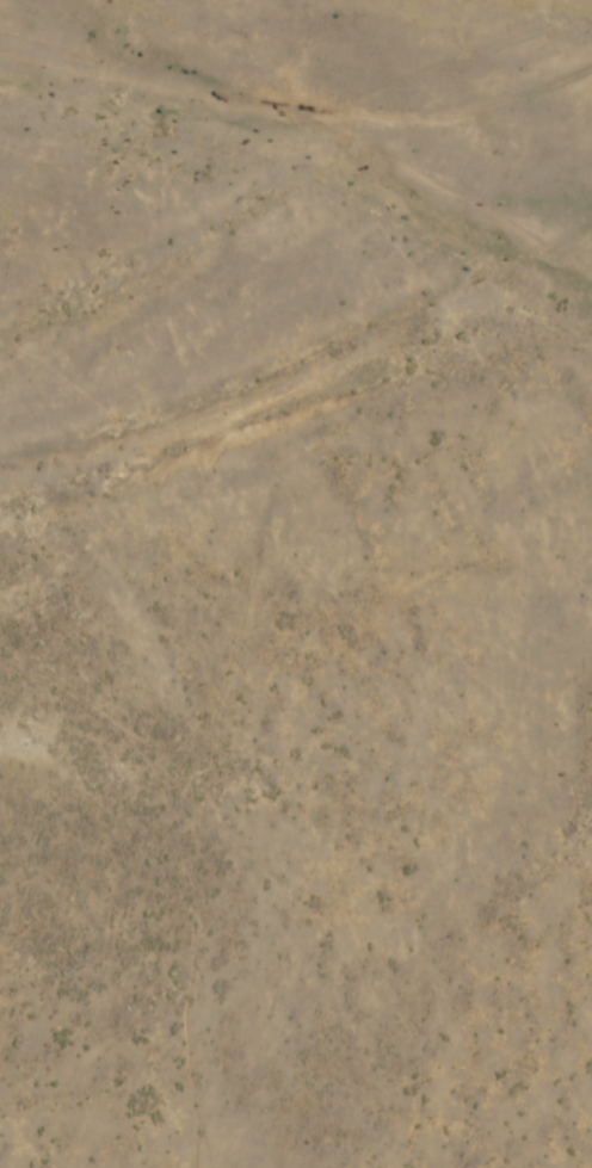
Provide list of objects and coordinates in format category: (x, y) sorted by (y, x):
road: (306, 379)

